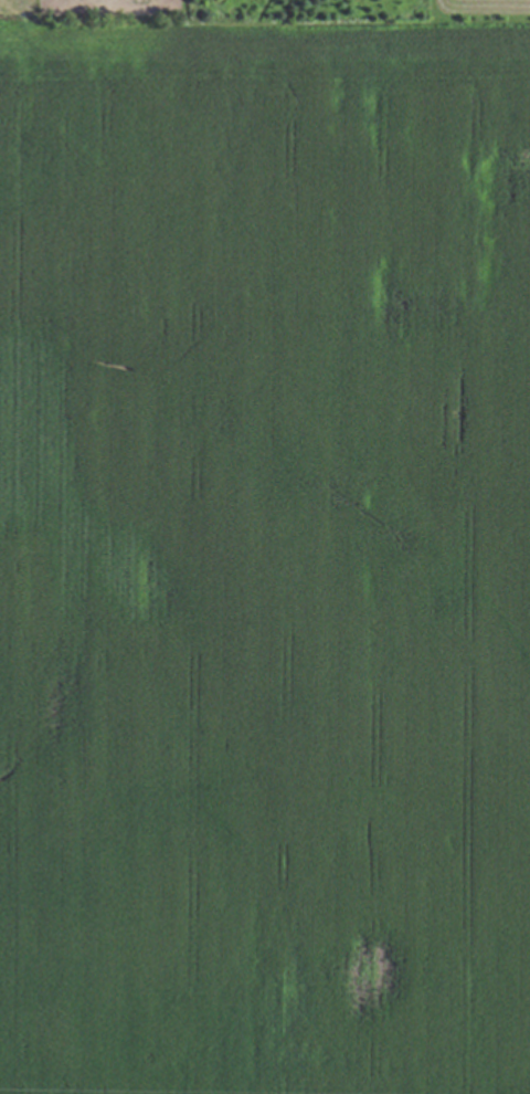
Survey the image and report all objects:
crop: (265, 555)

